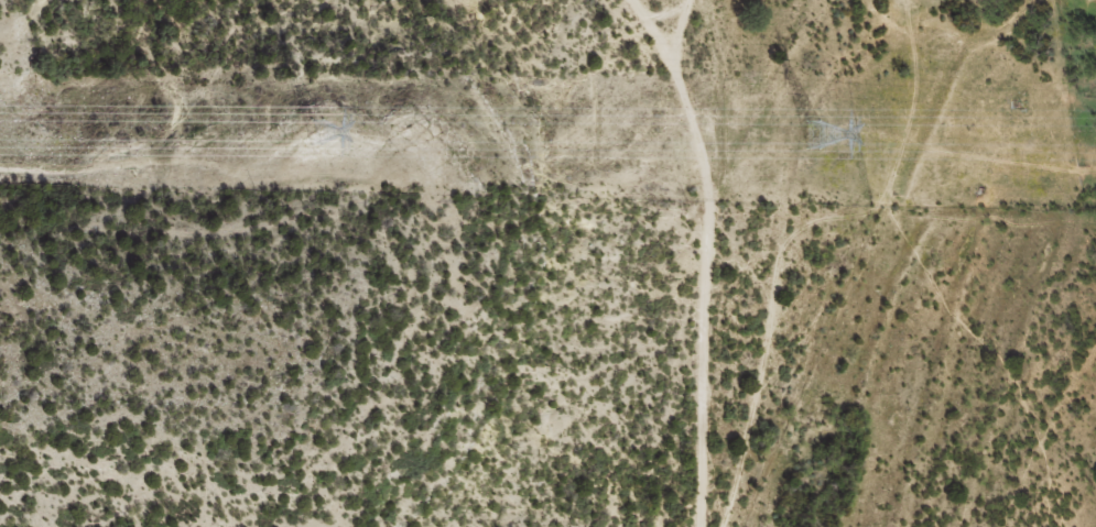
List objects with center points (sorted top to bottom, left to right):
power tower: (310, 130)
power tower: (810, 132)
road: (823, 228)
road: (695, 250)

